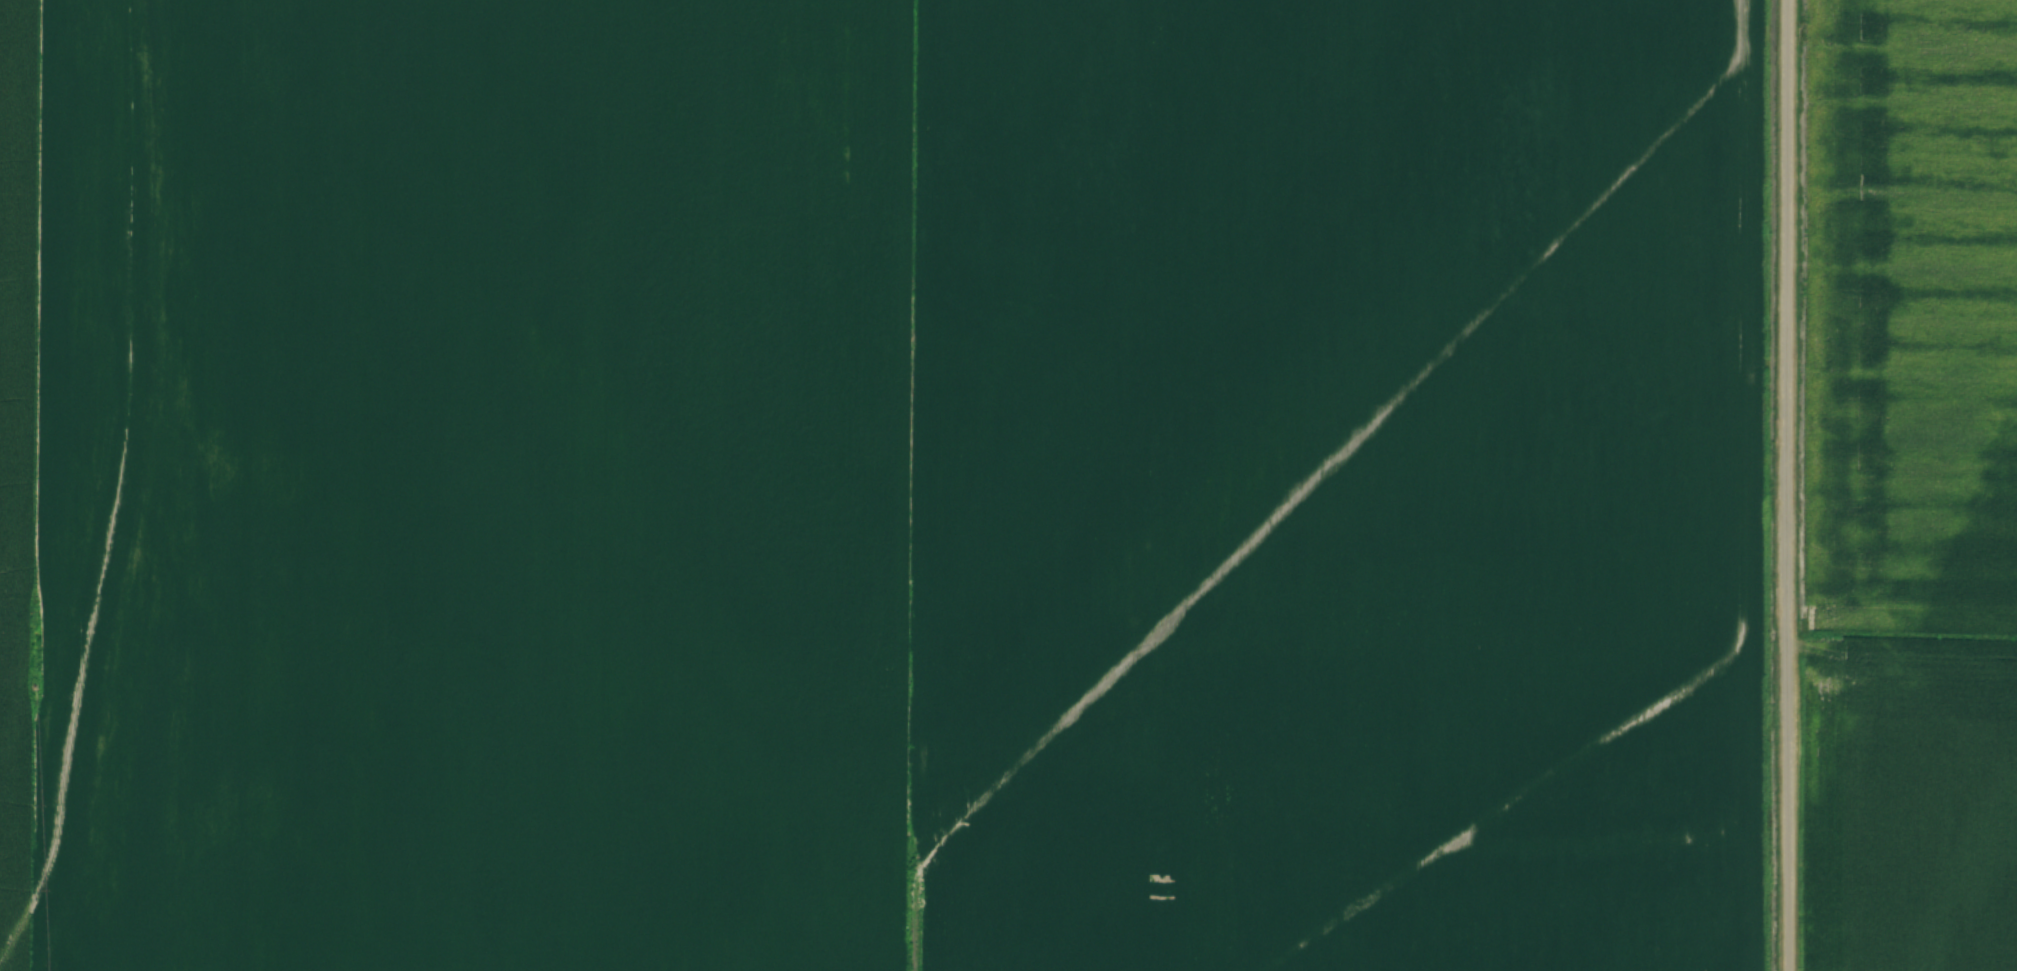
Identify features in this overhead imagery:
road: (1800, 485)
road: (1910, 644)

